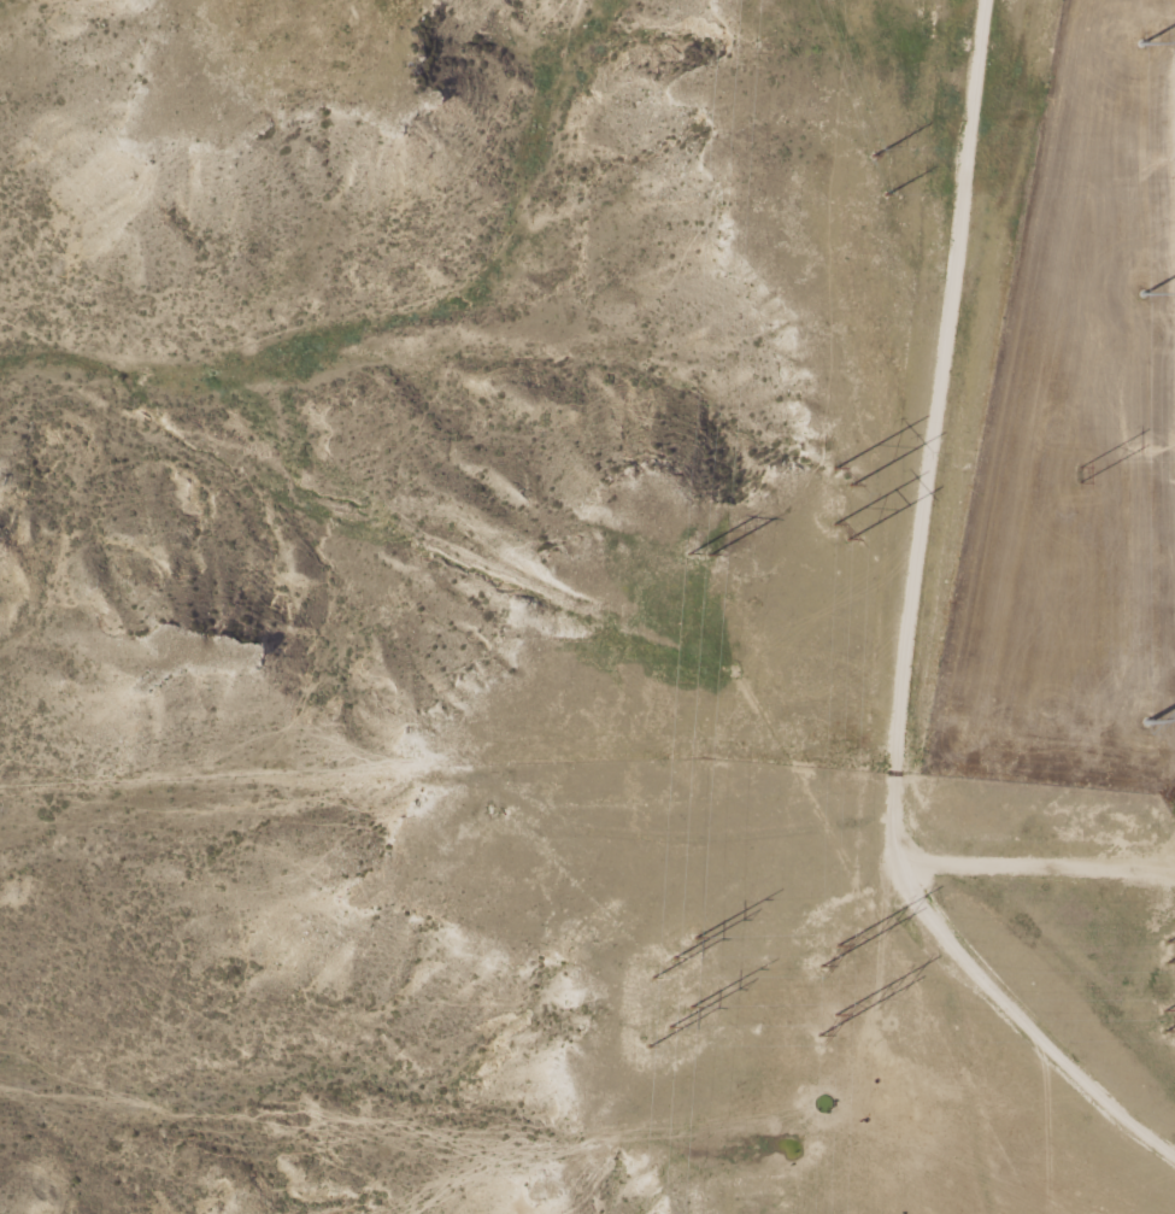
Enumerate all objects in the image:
power tower: (1142, 47)
power tower: (874, 157)
power tower: (888, 198)
power tower: (1144, 294)
power tower: (845, 479)
power tower: (1081, 479)
power tower: (844, 539)
power tower: (703, 555)
power tower: (1146, 725)
power tower: (1173, 949)
power tower: (832, 956)
power tower: (675, 958)
power tower: (1171, 1020)
power tower: (829, 1026)
power tower: (672, 1028)

